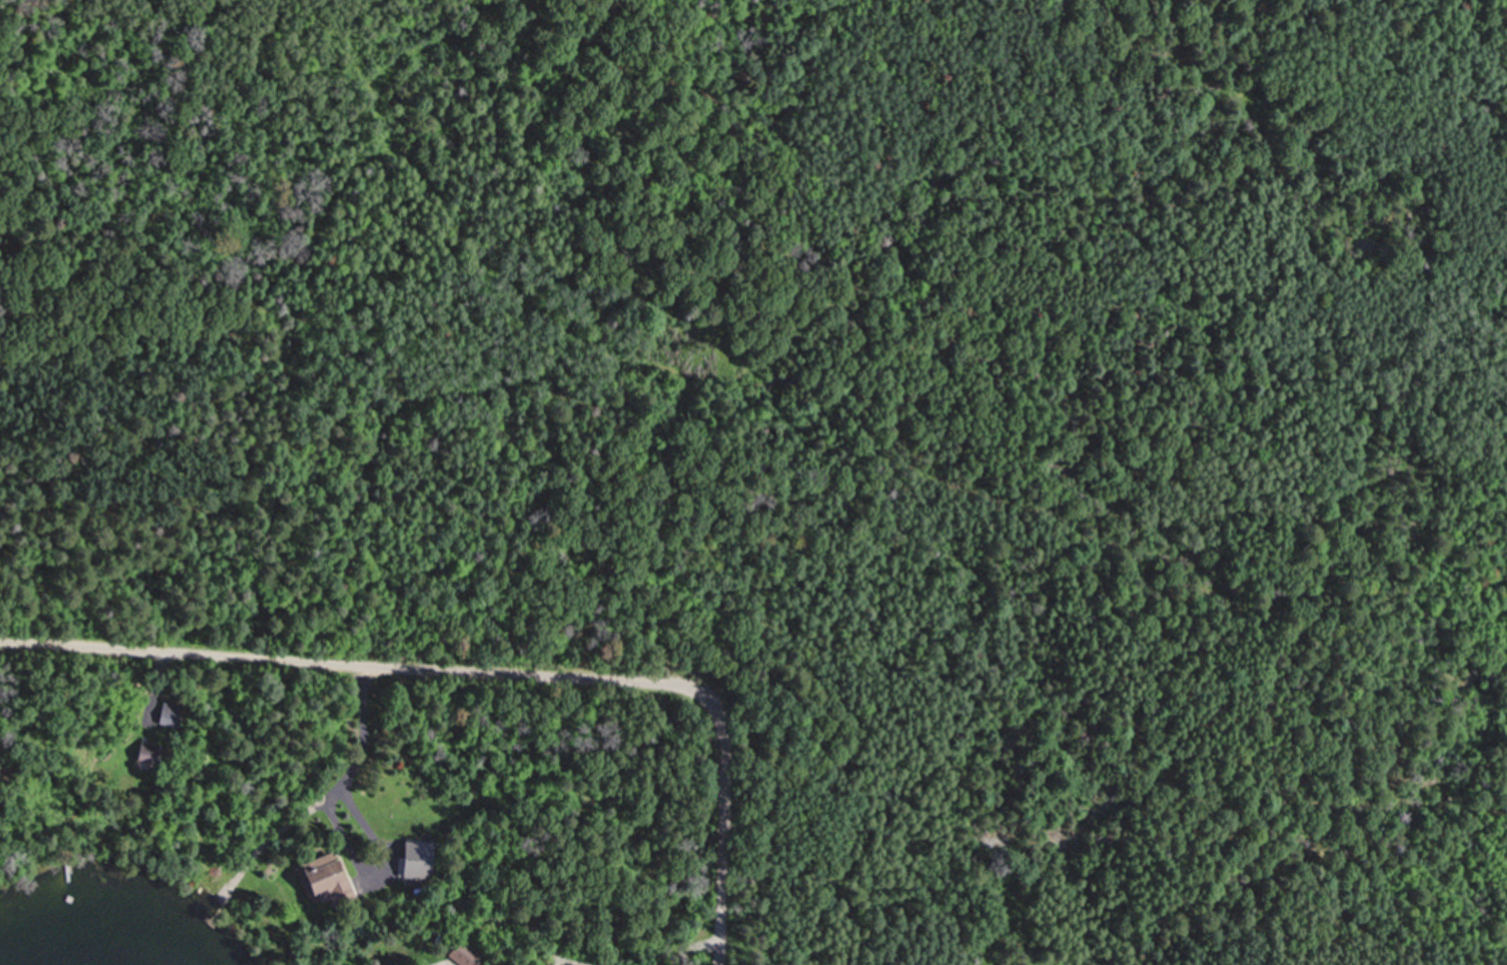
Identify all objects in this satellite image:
road: (806, 395)
road: (492, 672)
building: (169, 716)
road: (371, 740)
building: (145, 752)
building: (415, 860)
building: (324, 879)
road: (686, 948)

